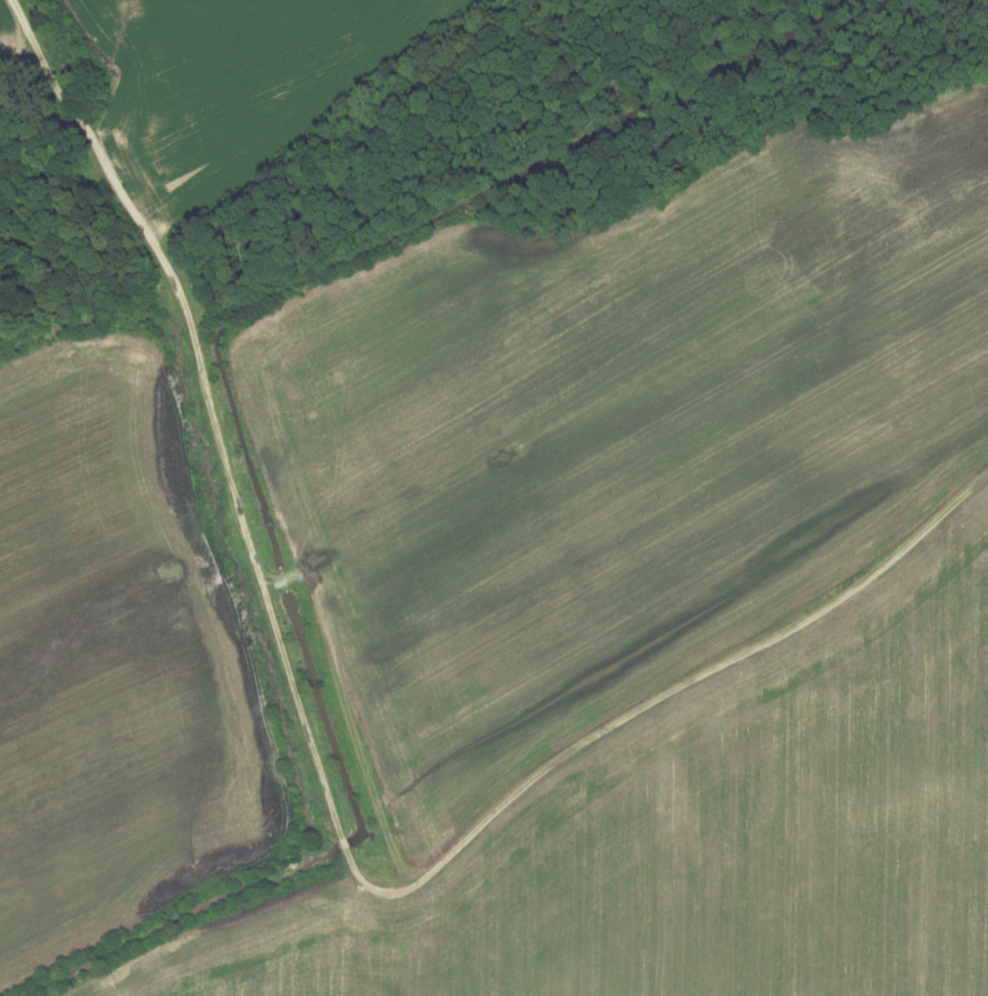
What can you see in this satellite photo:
road: (90, 134)
road: (358, 144)
road: (418, 883)

